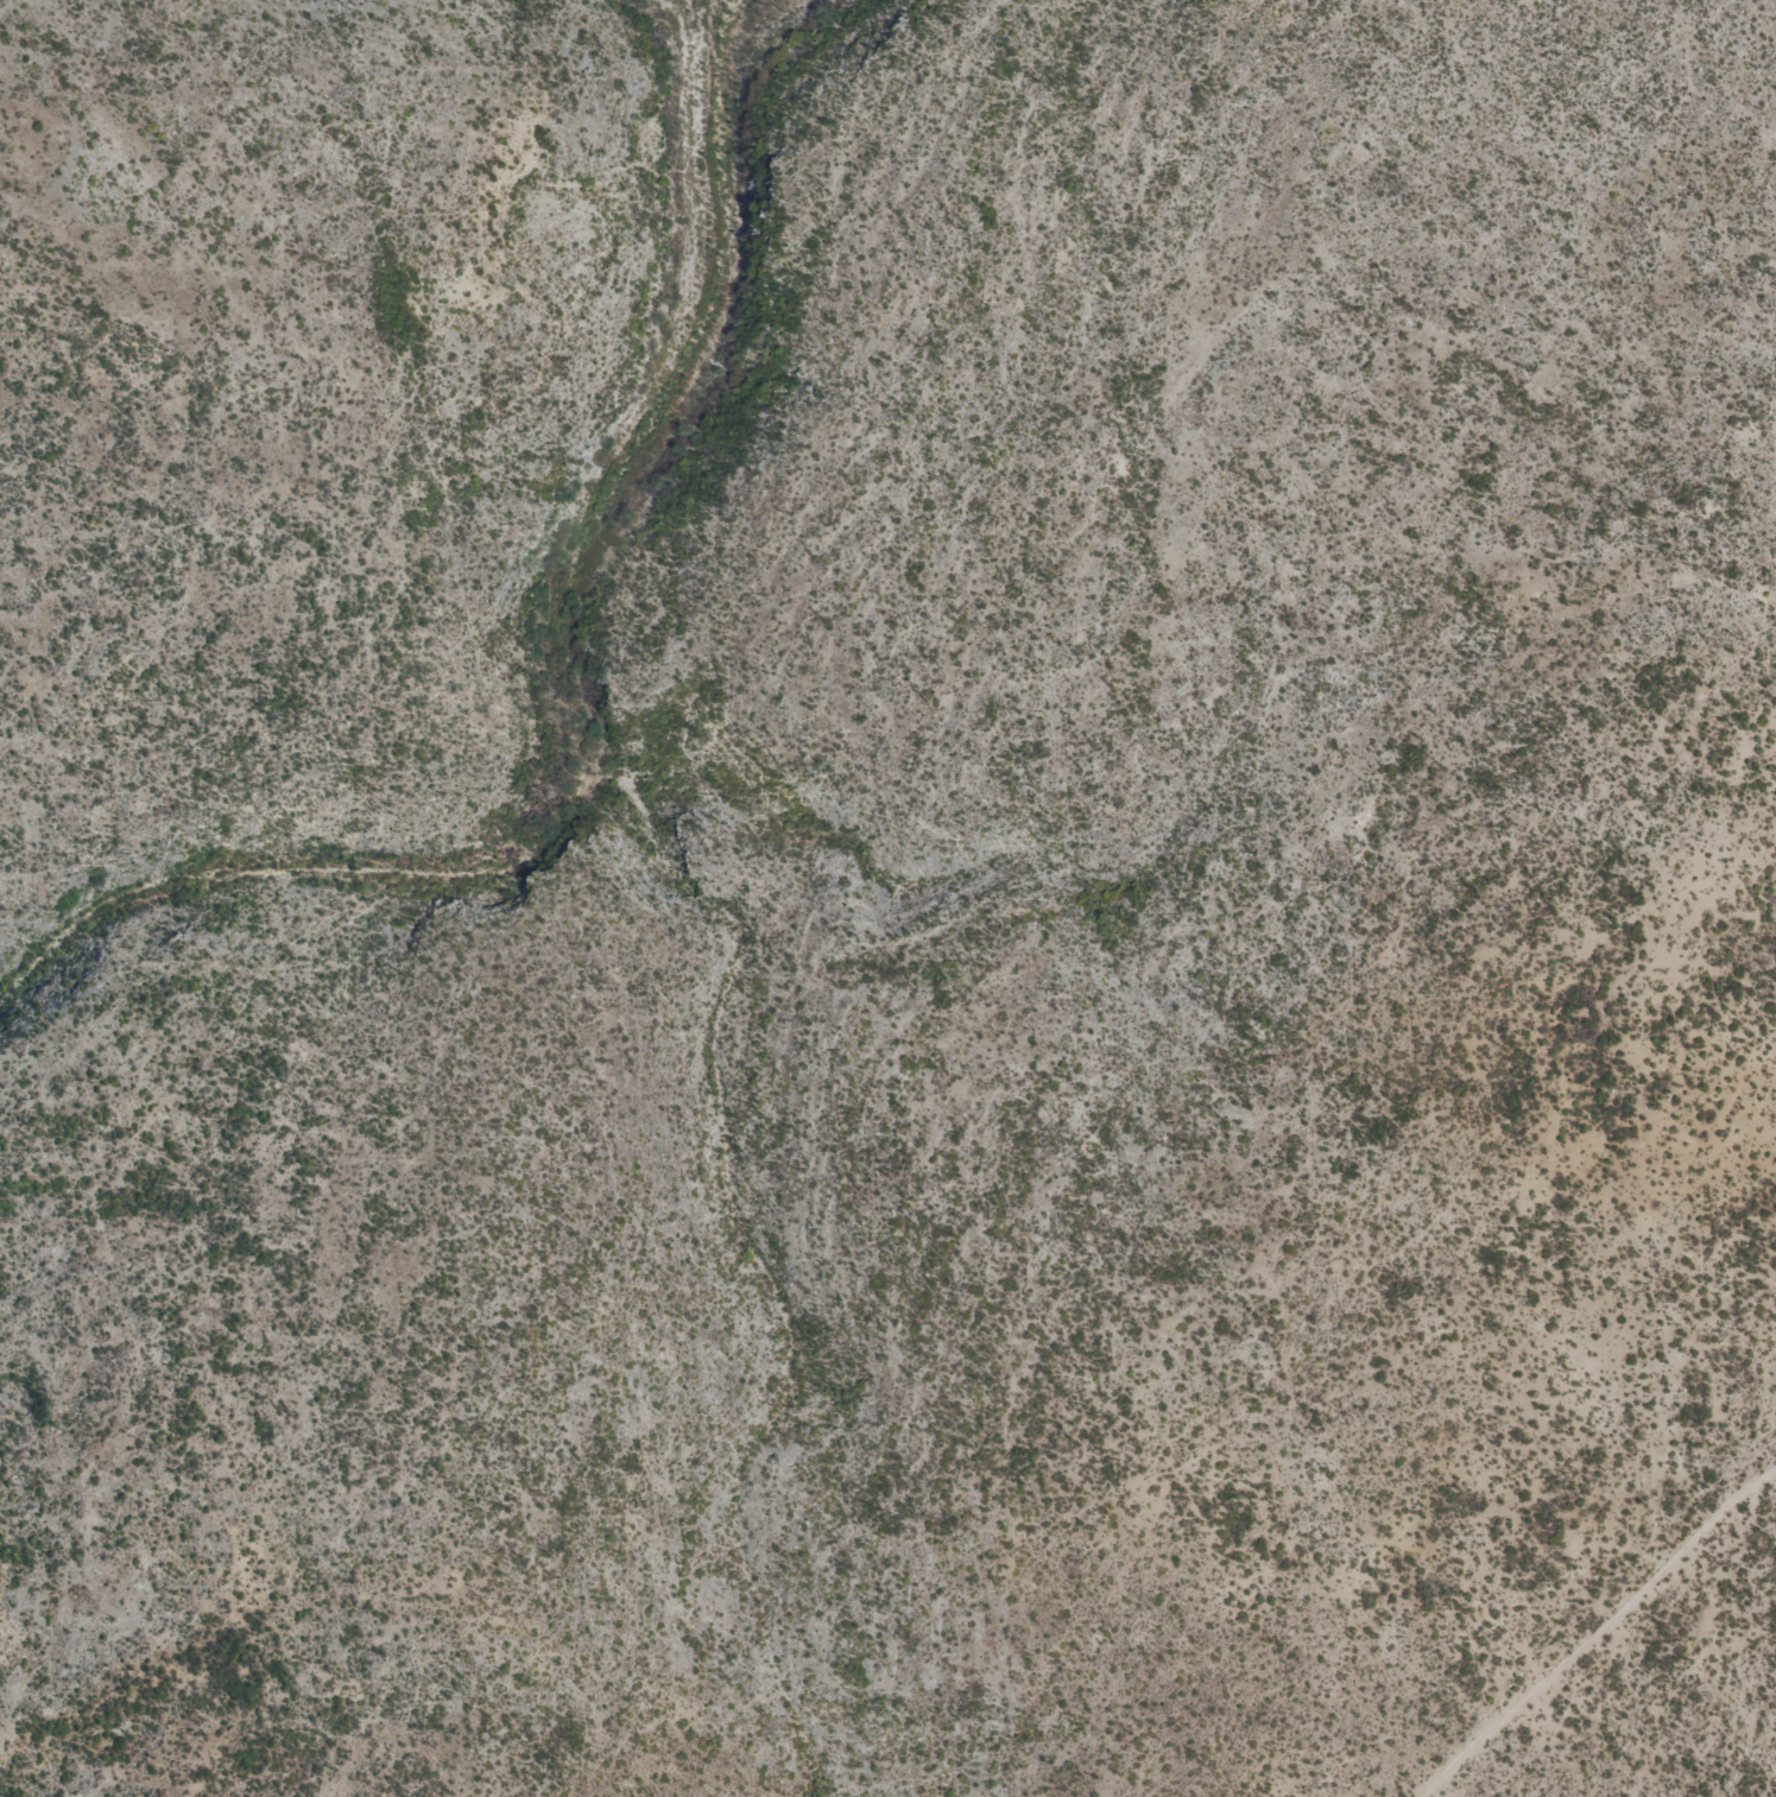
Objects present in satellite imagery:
road: (1597, 1632)

